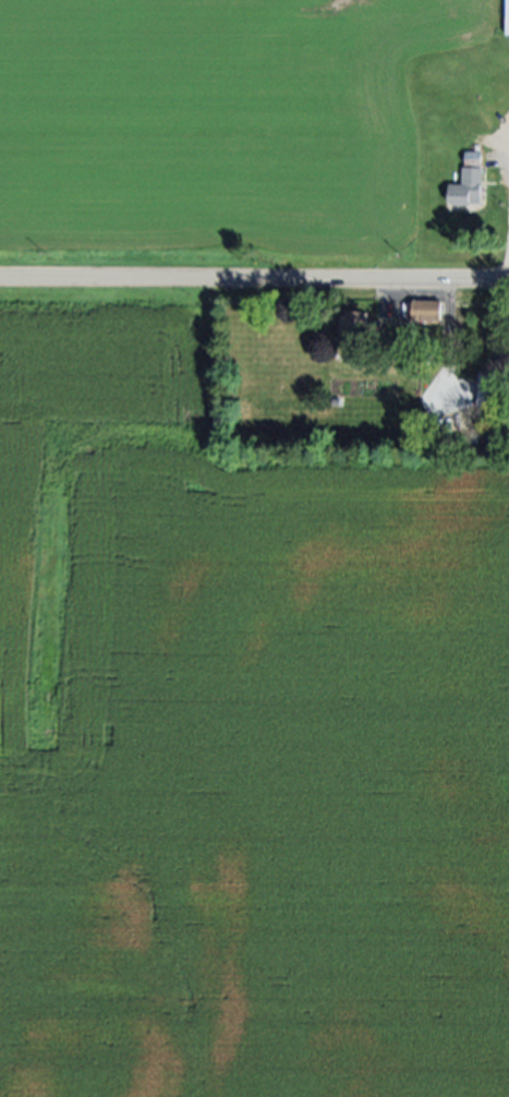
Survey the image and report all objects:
building: (507, 19)
building: (473, 158)
building: (466, 189)
road: (254, 280)
building: (426, 310)
building: (354, 324)
building: (488, 390)
building: (493, 432)

